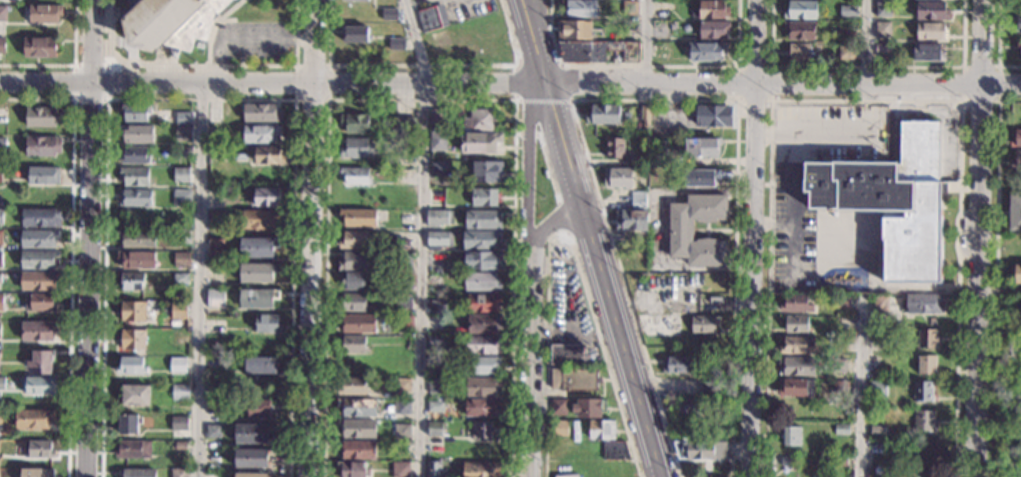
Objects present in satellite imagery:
building: (356, 1)
building: (629, 9)
building: (578, 10)
building: (710, 11)
building: (799, 11)
building: (882, 11)
building: (929, 12)
building: (846, 13)
building: (2, 14)
building: (43, 14)
building: (389, 15)
building: (430, 19)
building: (1018, 19)
building: (168, 23)
road: (213, 26)
building: (904, 27)
building: (574, 31)
building: (711, 31)
building: (799, 32)
building: (881, 32)
building: (929, 33)
building: (356, 35)
road: (246, 38)
road: (531, 40)
road: (542, 40)
road: (646, 40)
road: (868, 41)
building: (396, 44)
road: (998, 44)
building: (1018, 45)
building: (1, 46)
building: (39, 48)
building: (881, 49)
building: (483, 51)
building: (595, 52)
building: (705, 52)
building: (797, 53)
building: (845, 53)
building: (926, 53)
road: (69, 65)
road: (106, 65)
road: (201, 65)
road: (423, 65)
road: (537, 65)
road: (649, 66)
road: (867, 67)
road: (271, 80)
road: (782, 82)
road: (329, 99)
road: (646, 99)
road: (770, 99)
road: (200, 100)
road: (421, 100)
road: (542, 100)
road: (866, 101)
road: (999, 101)
building: (135, 113)
building: (261, 113)
building: (643, 114)
building: (213, 115)
building: (602, 115)
building: (2, 116)
building: (41, 117)
building: (435, 117)
building: (711, 117)
building: (179, 118)
building: (479, 121)
road: (526, 122)
building: (354, 124)
building: (402, 127)
building: (136, 134)
building: (260, 134)
building: (182, 135)
road: (814, 137)
building: (1016, 139)
building: (436, 142)
building: (2, 143)
building: (478, 143)
building: (41, 146)
building: (355, 149)
building: (613, 149)
building: (699, 149)
building: (184, 152)
building: (133, 156)
building: (268, 156)
building: (654, 157)
building: (1015, 161)
building: (637, 162)
road: (547, 165)
road: (527, 166)
building: (438, 170)
building: (485, 172)
building: (1, 174)
building: (180, 176)
building: (42, 177)
building: (134, 177)
building: (354, 177)
building: (402, 177)
building: (617, 179)
building: (699, 179)
building: (216, 196)
building: (436, 197)
building: (266, 198)
building: (483, 198)
building: (135, 199)
building: (181, 199)
building: (892, 201)
building: (1015, 213)
building: (632, 215)
building: (0, 217)
building: (40, 218)
building: (358, 218)
building: (439, 218)
road: (562, 218)
building: (216, 219)
building: (258, 219)
building: (482, 220)
road: (772, 222)
road: (792, 224)
road: (547, 225)
road: (563, 233)
building: (679, 234)
road: (423, 236)
building: (182, 237)
building: (0, 238)
road: (86, 238)
road: (311, 238)
road: (751, 238)
road: (976, 238)
building: (38, 239)
building: (136, 239)
building: (437, 240)
building: (480, 240)
building: (354, 241)
building: (1016, 243)
building: (400, 245)
building: (215, 246)
building: (257, 248)
road: (71, 251)
building: (0, 259)
building: (135, 259)
building: (38, 260)
building: (180, 260)
building: (403, 261)
building: (481, 262)
building: (351, 263)
building: (215, 271)
building: (256, 274)
building: (1018, 274)
building: (639, 277)
building: (697, 277)
road: (200, 278)
road: (600, 279)
building: (180, 280)
building: (37, 281)
building: (132, 282)
building: (352, 282)
building: (402, 282)
building: (434, 282)
building: (480, 283)
road: (996, 289)
building: (214, 298)
building: (257, 299)
building: (404, 302)
building: (883, 302)
building: (0, 303)
building: (39, 303)
building: (481, 303)
building: (840, 303)
building: (353, 304)
building: (794, 305)
building: (922, 305)
building: (436, 308)
building: (177, 311)
building: (132, 312)
building: (357, 324)
building: (403, 324)
building: (266, 325)
building: (482, 325)
building: (701, 325)
building: (795, 325)
building: (658, 326)
building: (0, 331)
building: (36, 331)
building: (924, 339)
building: (131, 340)
building: (434, 342)
building: (350, 344)
building: (481, 345)
building: (795, 347)
building: (567, 355)
building: (719, 361)
building: (39, 363)
building: (231, 364)
building: (432, 364)
building: (260, 365)
building: (177, 366)
building: (479, 366)
road: (527, 366)
building: (677, 366)
building: (130, 367)
building: (403, 367)
building: (837, 367)
building: (924, 367)
building: (795, 368)
building: (573, 379)
building: (1, 384)
building: (403, 385)
building: (38, 386)
building: (434, 386)
road: (860, 387)
building: (351, 388)
building: (479, 388)
building: (838, 389)
building: (794, 390)
building: (876, 390)
park: (1004, 390)
building: (709, 391)
building: (178, 393)
building: (921, 393)
building: (134, 396)
building: (213, 406)
building: (357, 407)
building: (433, 407)
building: (557, 407)
building: (399, 408)
building: (481, 408)
building: (589, 408)
building: (686, 409)
building: (257, 410)
building: (0, 416)
building: (33, 419)
building: (922, 421)
building: (128, 424)
building: (178, 424)
building: (558, 429)
building: (355, 430)
building: (433, 430)
building: (840, 430)
building: (212, 431)
building: (481, 431)
building: (600, 431)
building: (401, 432)
building: (876, 433)
building: (251, 435)
building: (790, 438)
building: (177, 447)
building: (927, 449)
building: (37, 450)
building: (132, 451)
building: (356, 451)
building: (613, 451)
building: (698, 451)
building: (876, 451)
building: (212, 457)
building: (251, 458)
building: (837, 461)
building: (785, 462)
building: (816, 465)
building: (353, 469)
building: (401, 469)
building: (432, 470)
building: (480, 470)
building: (910, 471)
building: (36, 473)
building: (135, 473)
building: (178, 473)
building: (211, 475)
building: (250, 475)
building: (568, 476)

